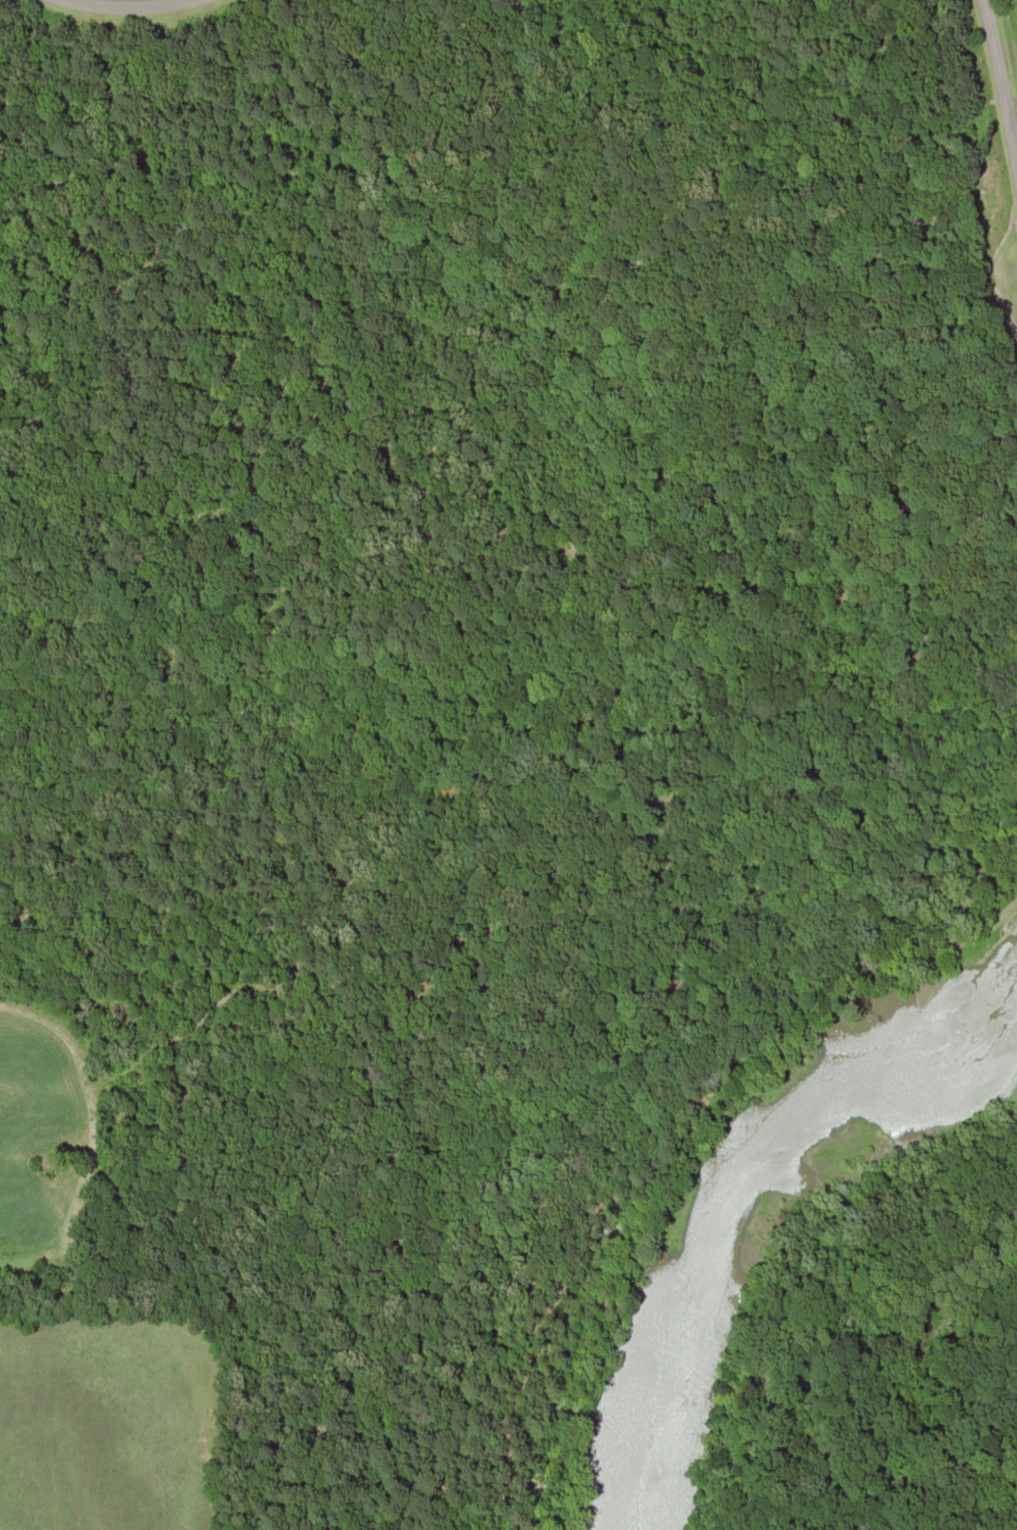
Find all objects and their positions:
road: (118, 6)
road: (999, 90)

